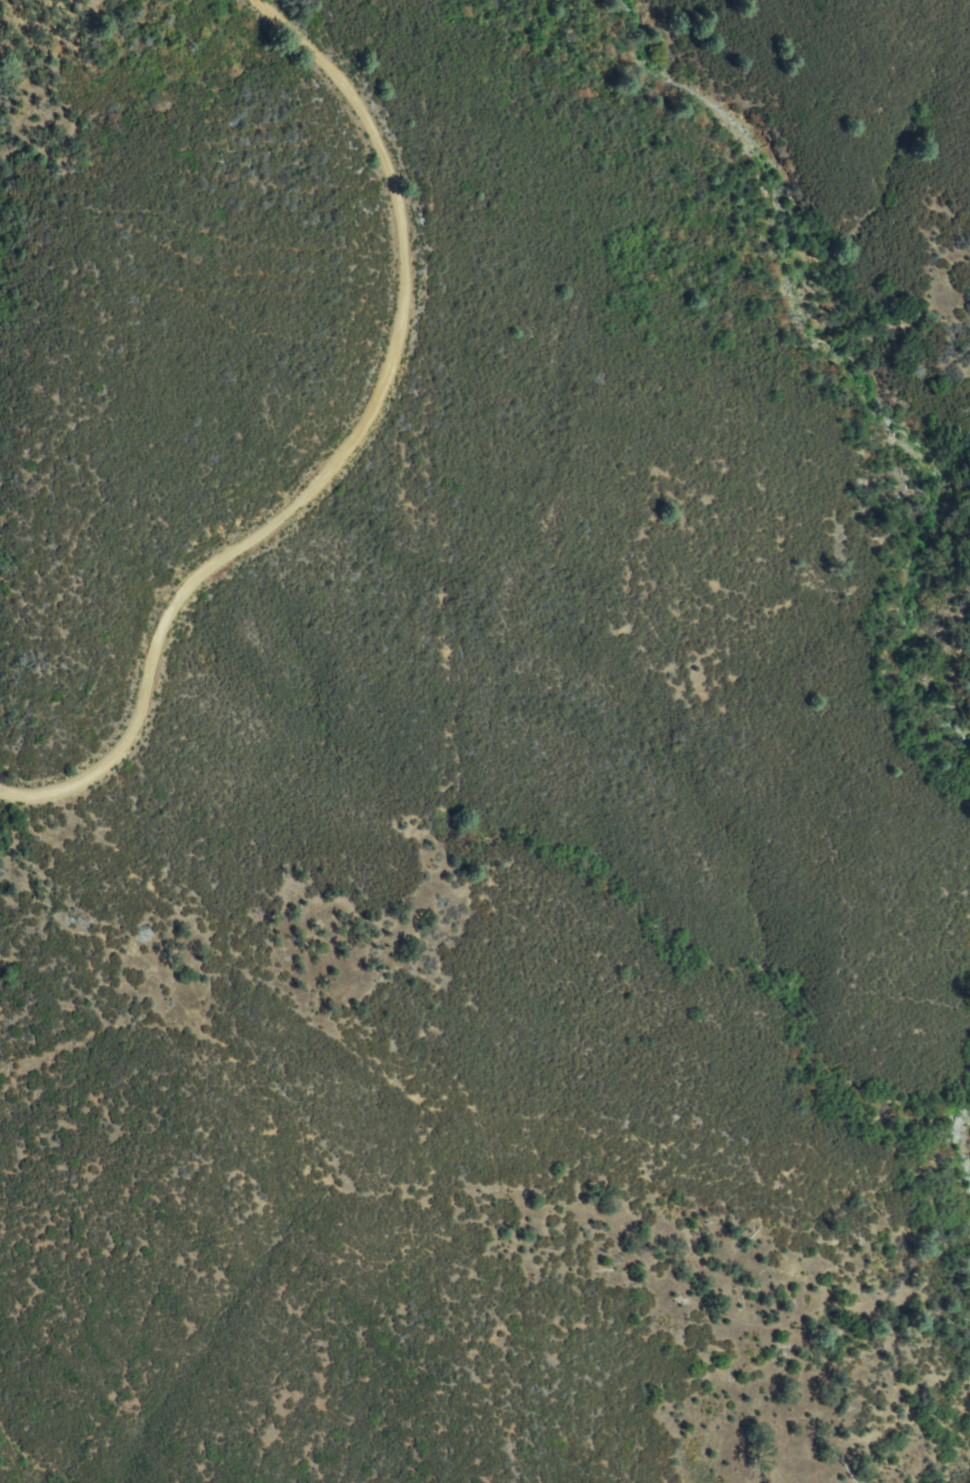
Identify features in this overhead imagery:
road: (345, 454)

